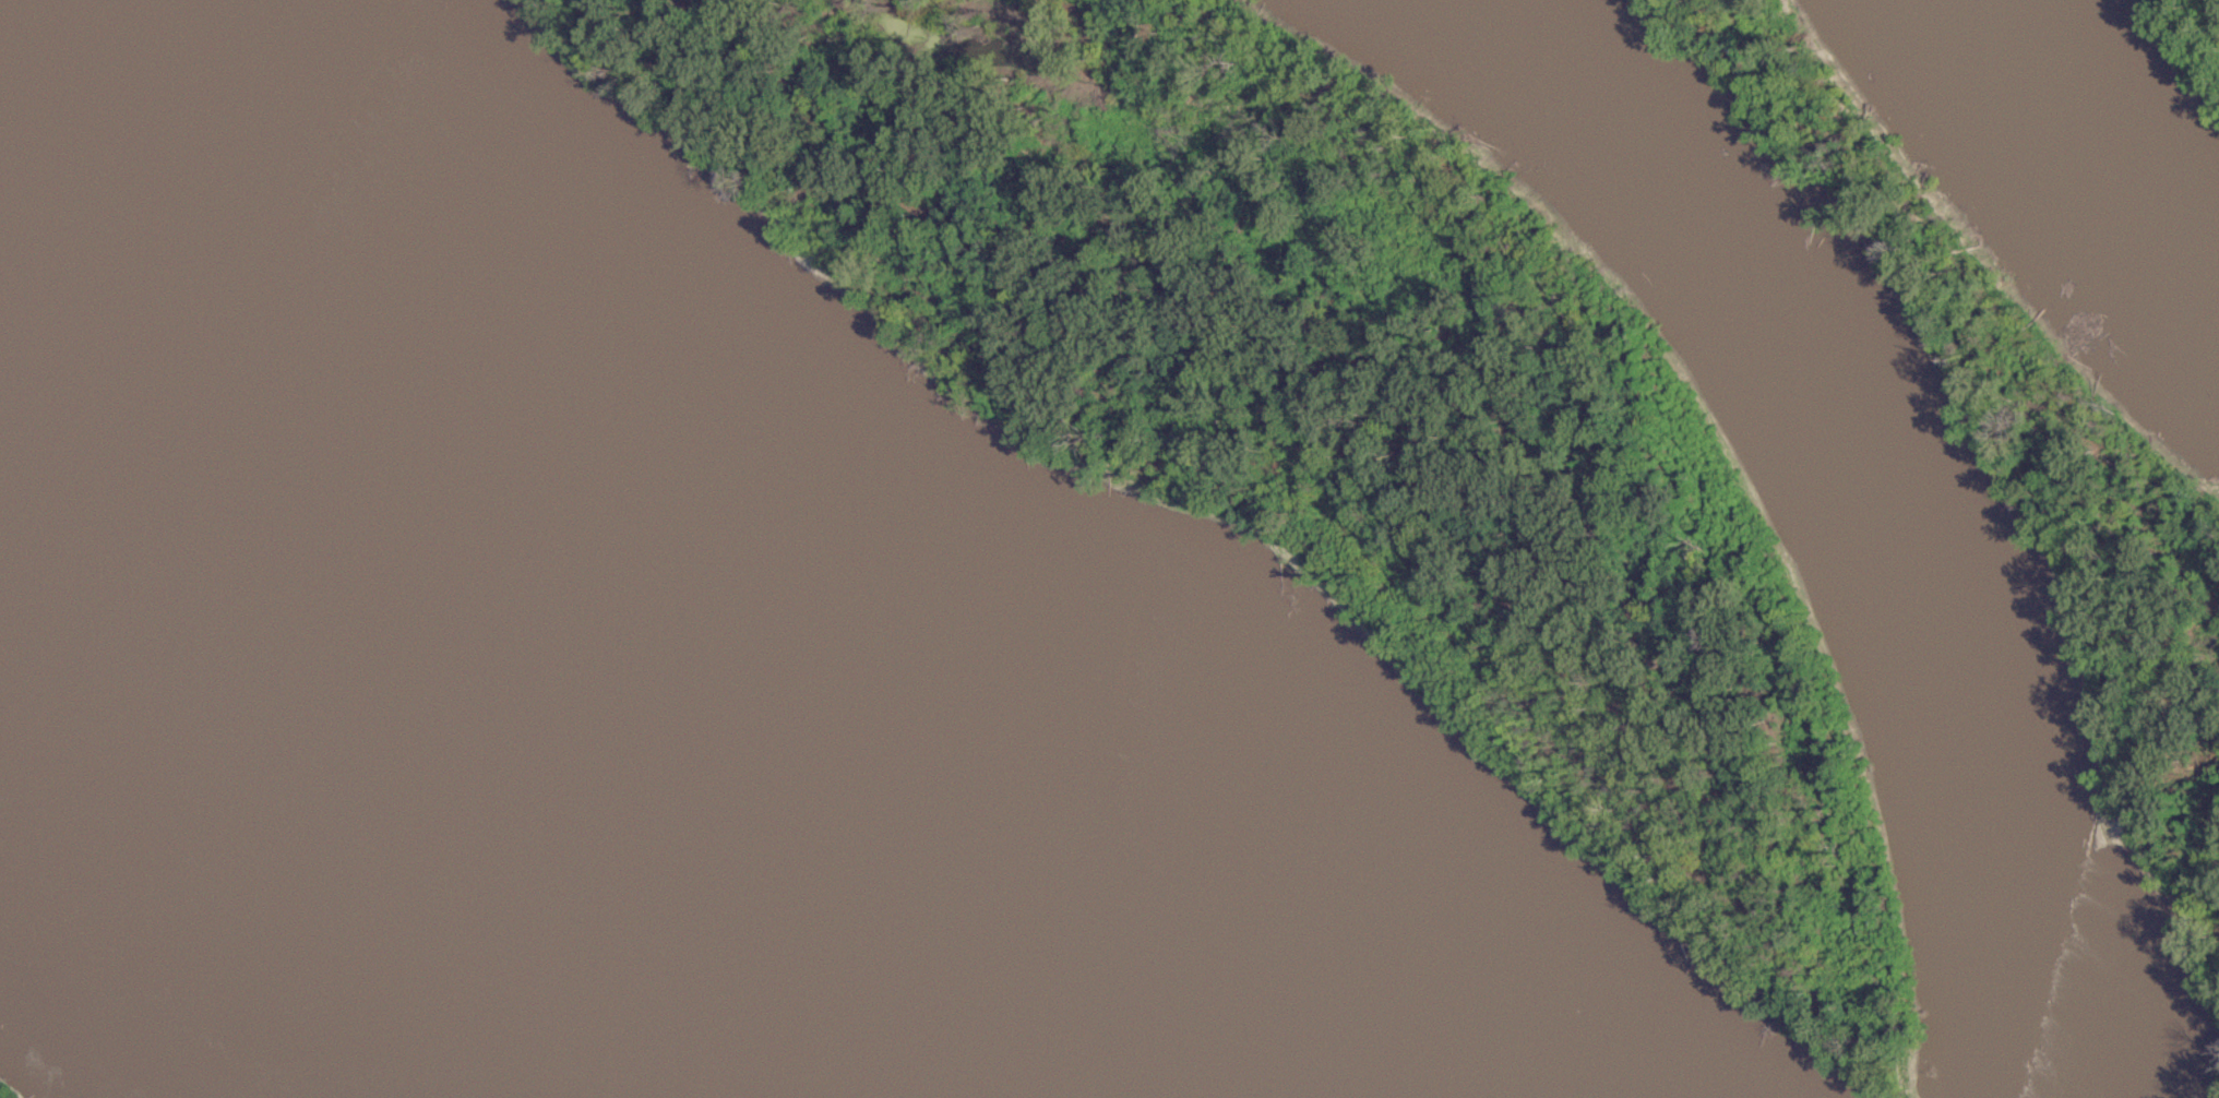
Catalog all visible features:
river: (2095, 143)
river: (454, 751)

